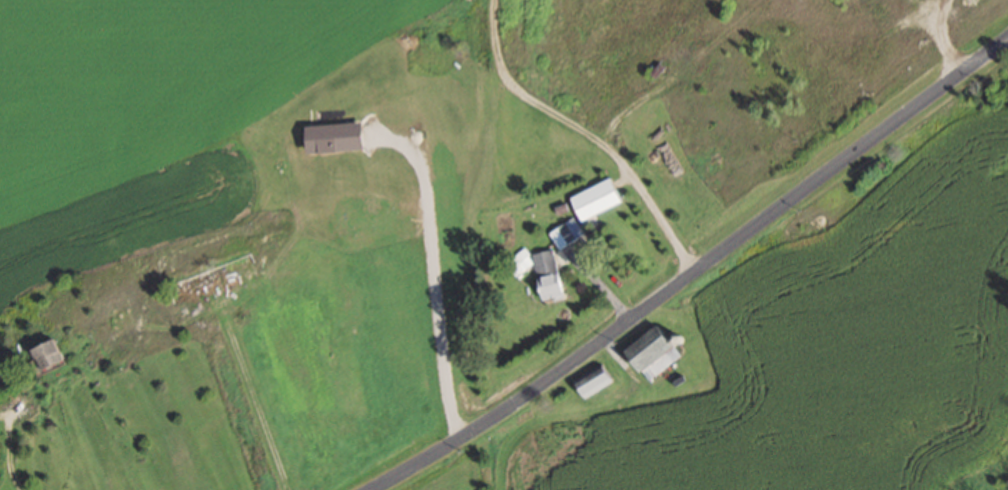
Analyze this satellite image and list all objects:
road: (587, 133)
building: (598, 197)
building: (566, 232)
building: (522, 262)
road: (695, 271)
building: (549, 273)
building: (214, 279)
road: (436, 281)
building: (657, 351)
building: (53, 355)
building: (598, 380)
road: (593, 411)

